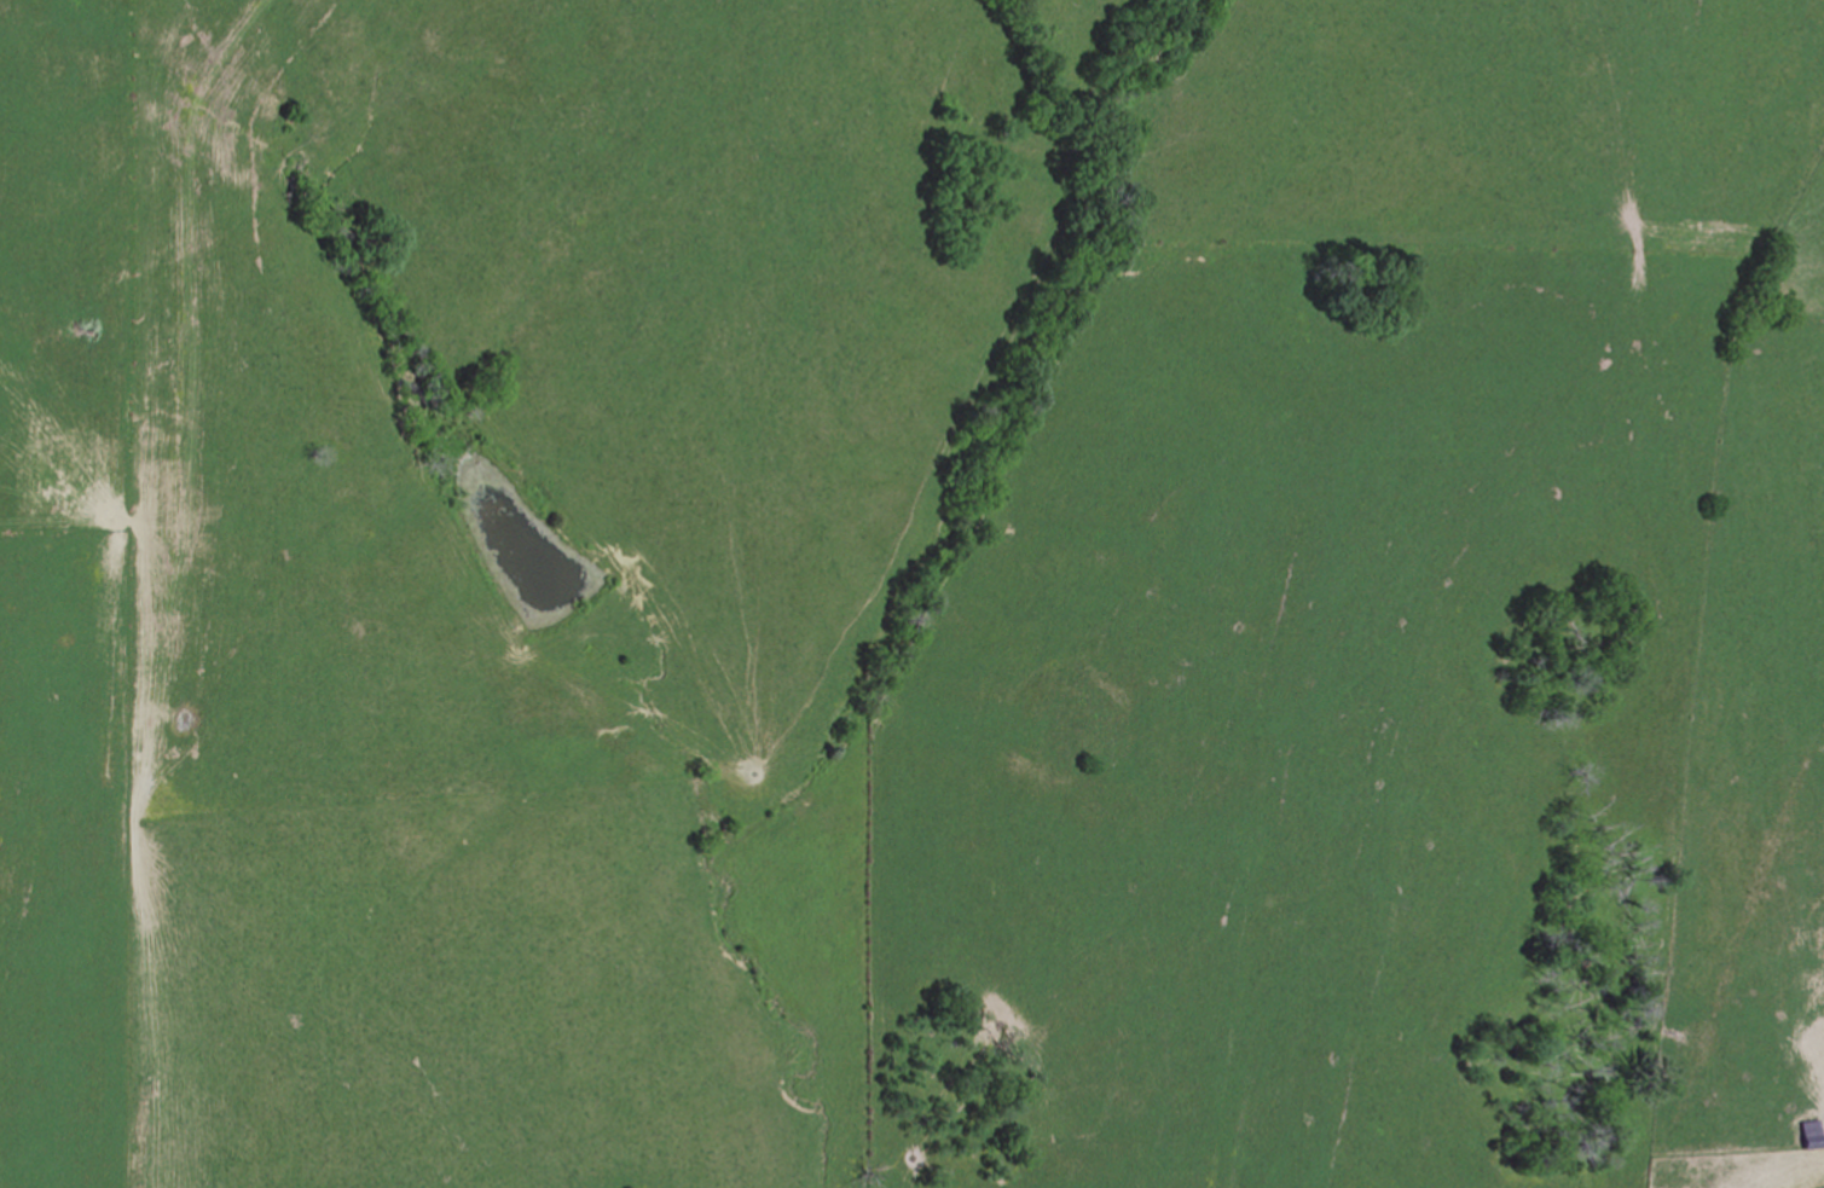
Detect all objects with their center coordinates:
building: (1809, 1136)

